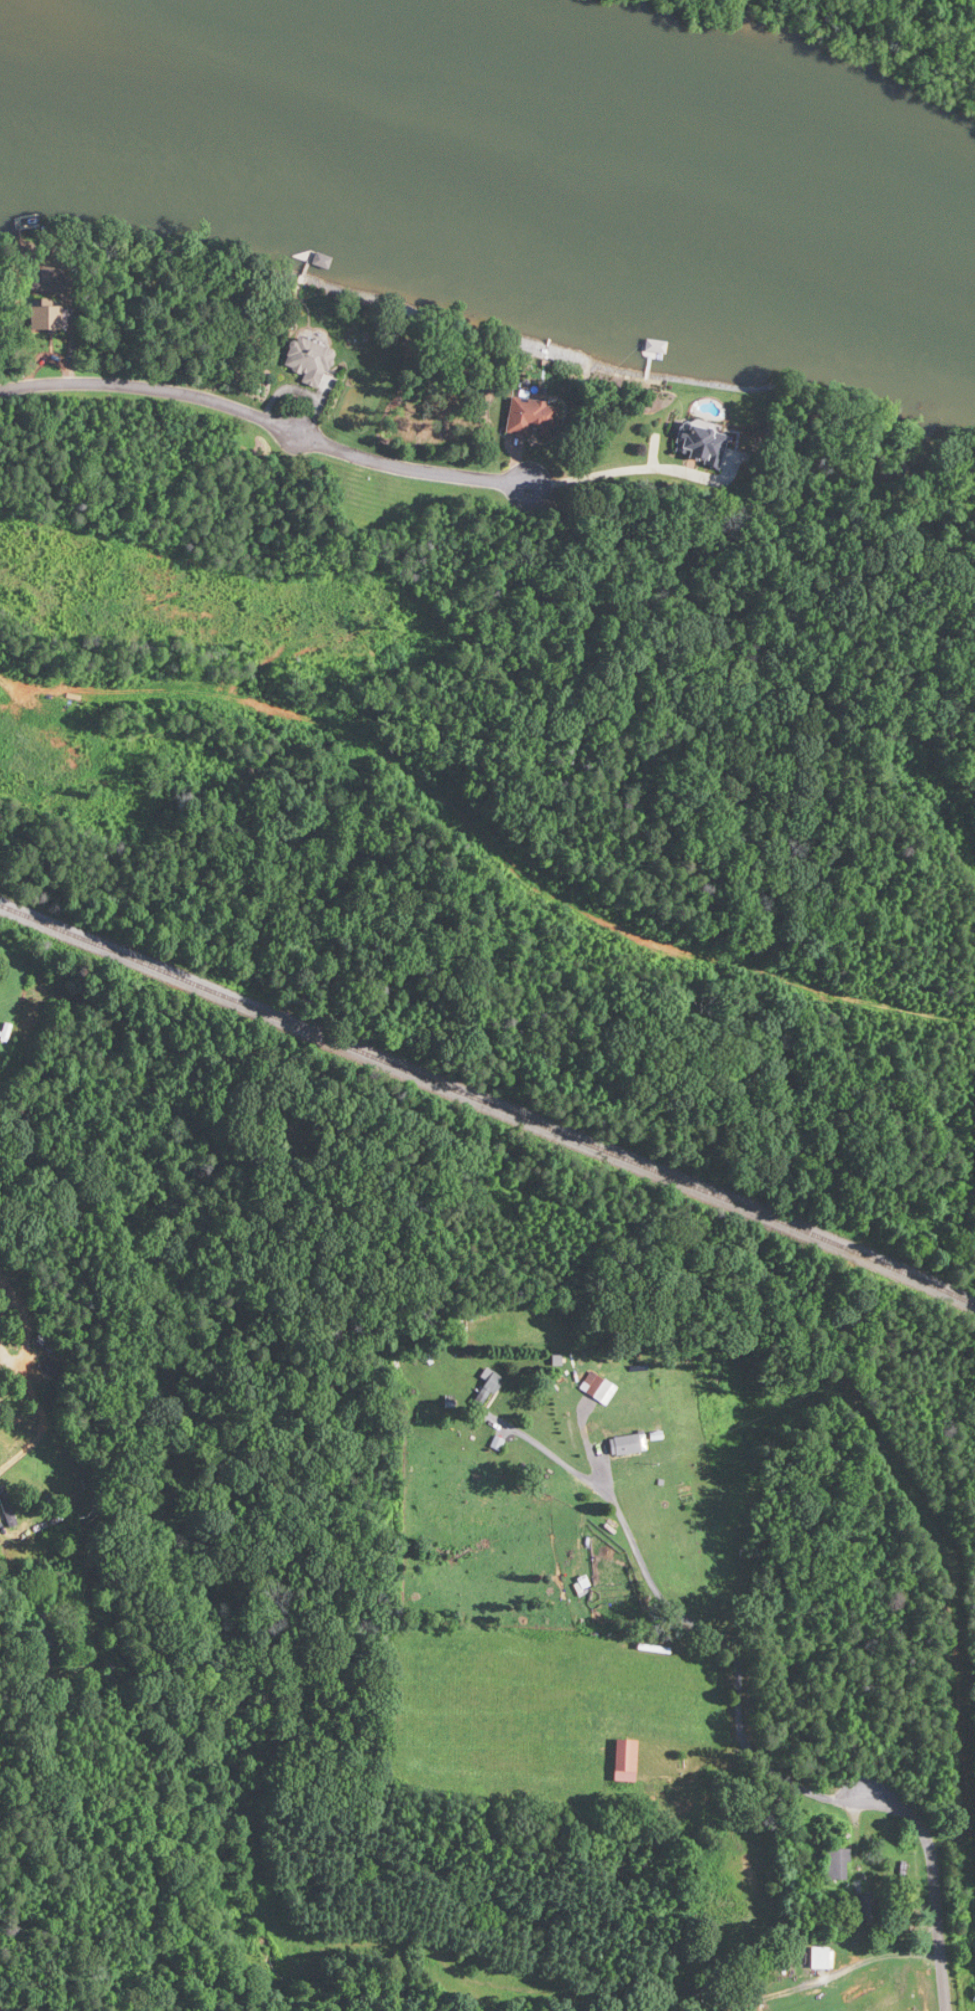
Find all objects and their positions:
river: (567, 106)
building: (309, 360)
building: (530, 416)
road: (267, 419)
building: (701, 444)
road: (631, 470)
railway: (488, 1109)
road: (2, 1281)
road: (2, 1299)
road: (23, 1335)
road: (42, 1422)
building: (628, 1444)
road: (543, 1448)
building: (9, 1507)
road: (0, 1524)
building: (55, 1657)
building: (625, 1755)
road: (769, 1771)
building: (837, 1863)
building: (863, 1908)
building: (820, 1957)
road: (834, 1972)

